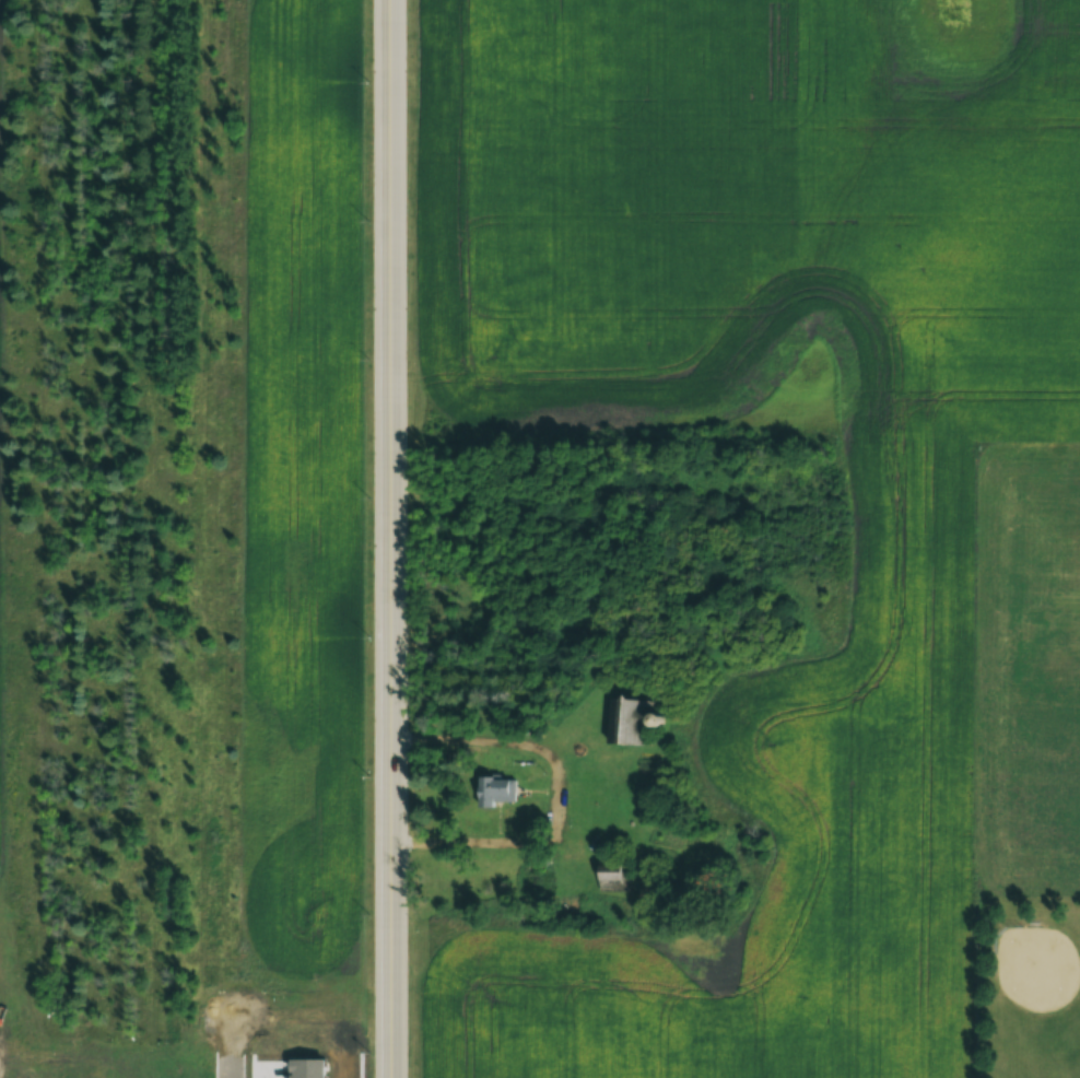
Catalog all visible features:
road: (386, 538)
building: (633, 722)
building: (501, 792)
building: (618, 877)
park: (1034, 965)

